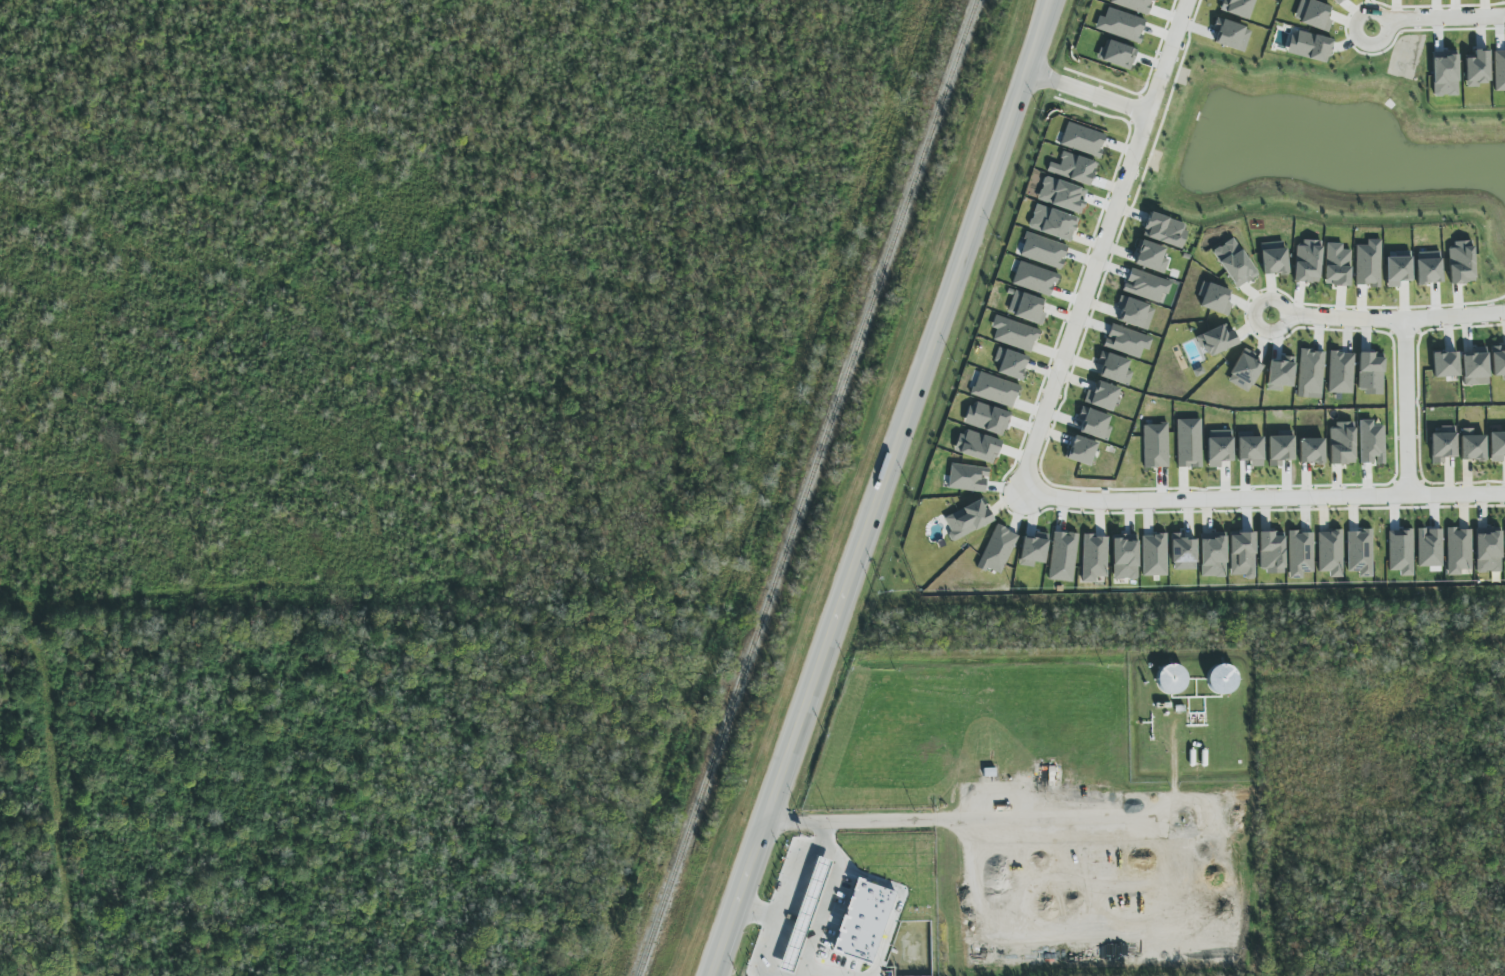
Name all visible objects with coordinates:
building: (1337, 1)
building: (1134, 5)
building: (1237, 7)
building: (1313, 14)
road: (1431, 14)
building: (1120, 25)
building: (1231, 35)
building: (1309, 46)
building: (1477, 69)
building: (1445, 73)
road: (1089, 94)
building: (1083, 139)
building: (1073, 168)
building: (1062, 195)
building: (1052, 223)
building: (1165, 230)
road: (1103, 242)
building: (1043, 251)
building: (1150, 257)
building: (1273, 258)
building: (1307, 262)
building: (1461, 262)
building: (1234, 263)
building: (1368, 264)
building: (1337, 265)
building: (1397, 268)
building: (1428, 268)
building: (1034, 279)
building: (1146, 286)
building: (1214, 298)
building: (1026, 308)
building: (1134, 313)
road: (1390, 320)
building: (1014, 334)
building: (1216, 340)
building: (1127, 341)
building: (1498, 361)
building: (1011, 364)
building: (1445, 364)
building: (1475, 367)
building: (1114, 368)
building: (1243, 371)
building: (1340, 372)
building: (1369, 373)
building: (1310, 374)
building: (995, 390)
building: (1102, 396)
road: (1408, 408)
building: (986, 418)
building: (1094, 424)
building: (1371, 442)
building: (1189, 443)
building: (1341, 443)
building: (1443, 444)
building: (1155, 445)
building: (977, 446)
building: (1472, 446)
building: (1497, 446)
building: (1219, 447)
building: (1250, 448)
building: (1280, 449)
building: (1311, 450)
building: (1081, 451)
building: (968, 478)
railway: (807, 487)
road: (889, 488)
road: (1265, 498)
building: (967, 519)
building: (997, 550)
building: (1458, 550)
building: (1488, 550)
building: (1183, 552)
building: (1360, 552)
building: (1271, 553)
building: (1300, 553)
building: (1330, 553)
building: (1242, 554)
building: (1154, 555)
building: (1212, 555)
building: (1063, 556)
building: (1125, 557)
building: (1094, 558)
road: (976, 631)
building: (1171, 679)
building: (1222, 679)
road: (990, 817)
road: (854, 820)
road: (797, 876)
building: (813, 887)
road: (761, 912)
building: (863, 921)
road: (764, 960)

